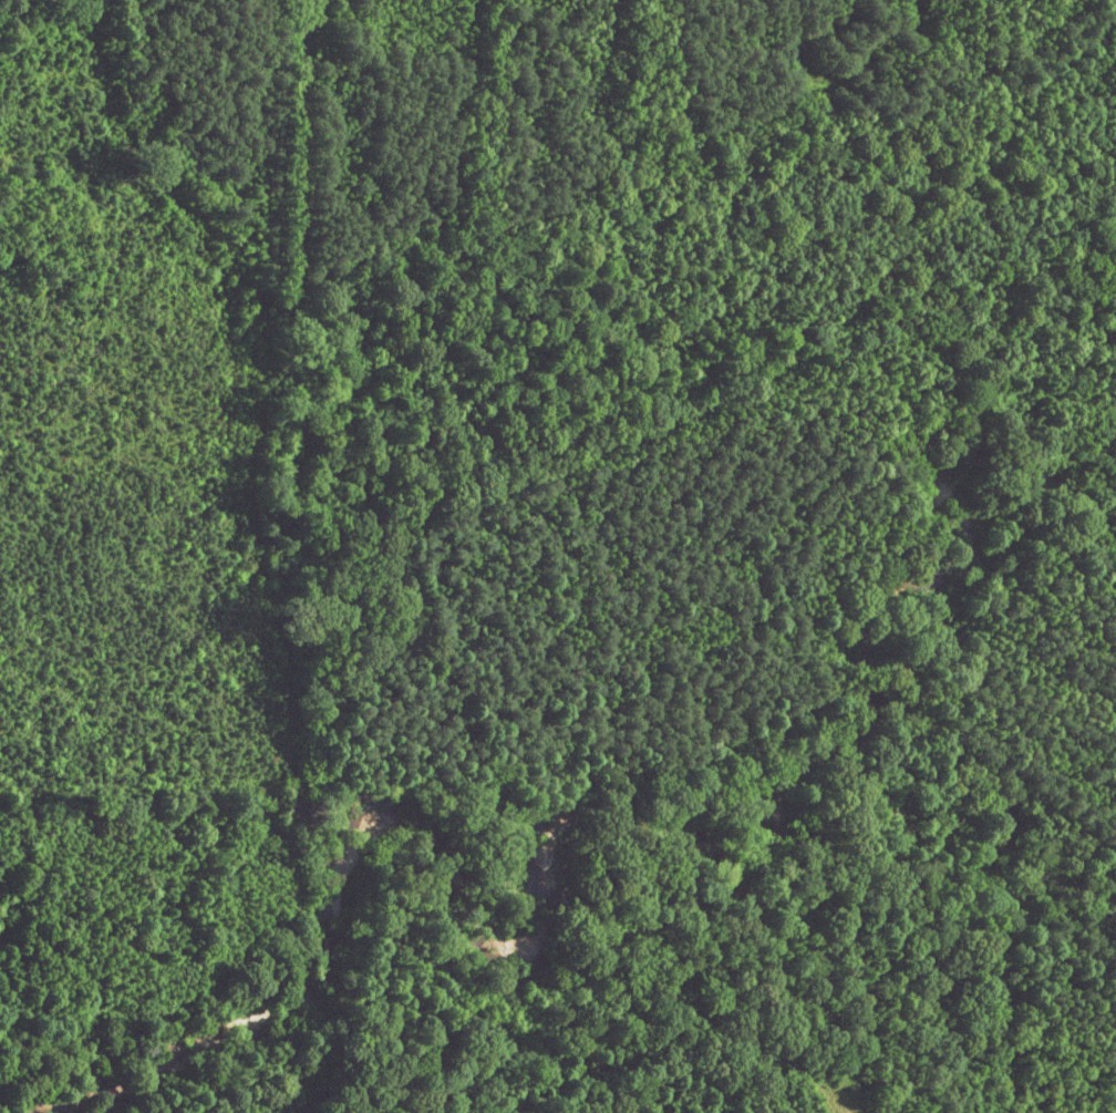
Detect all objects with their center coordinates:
road: (652, 997)

